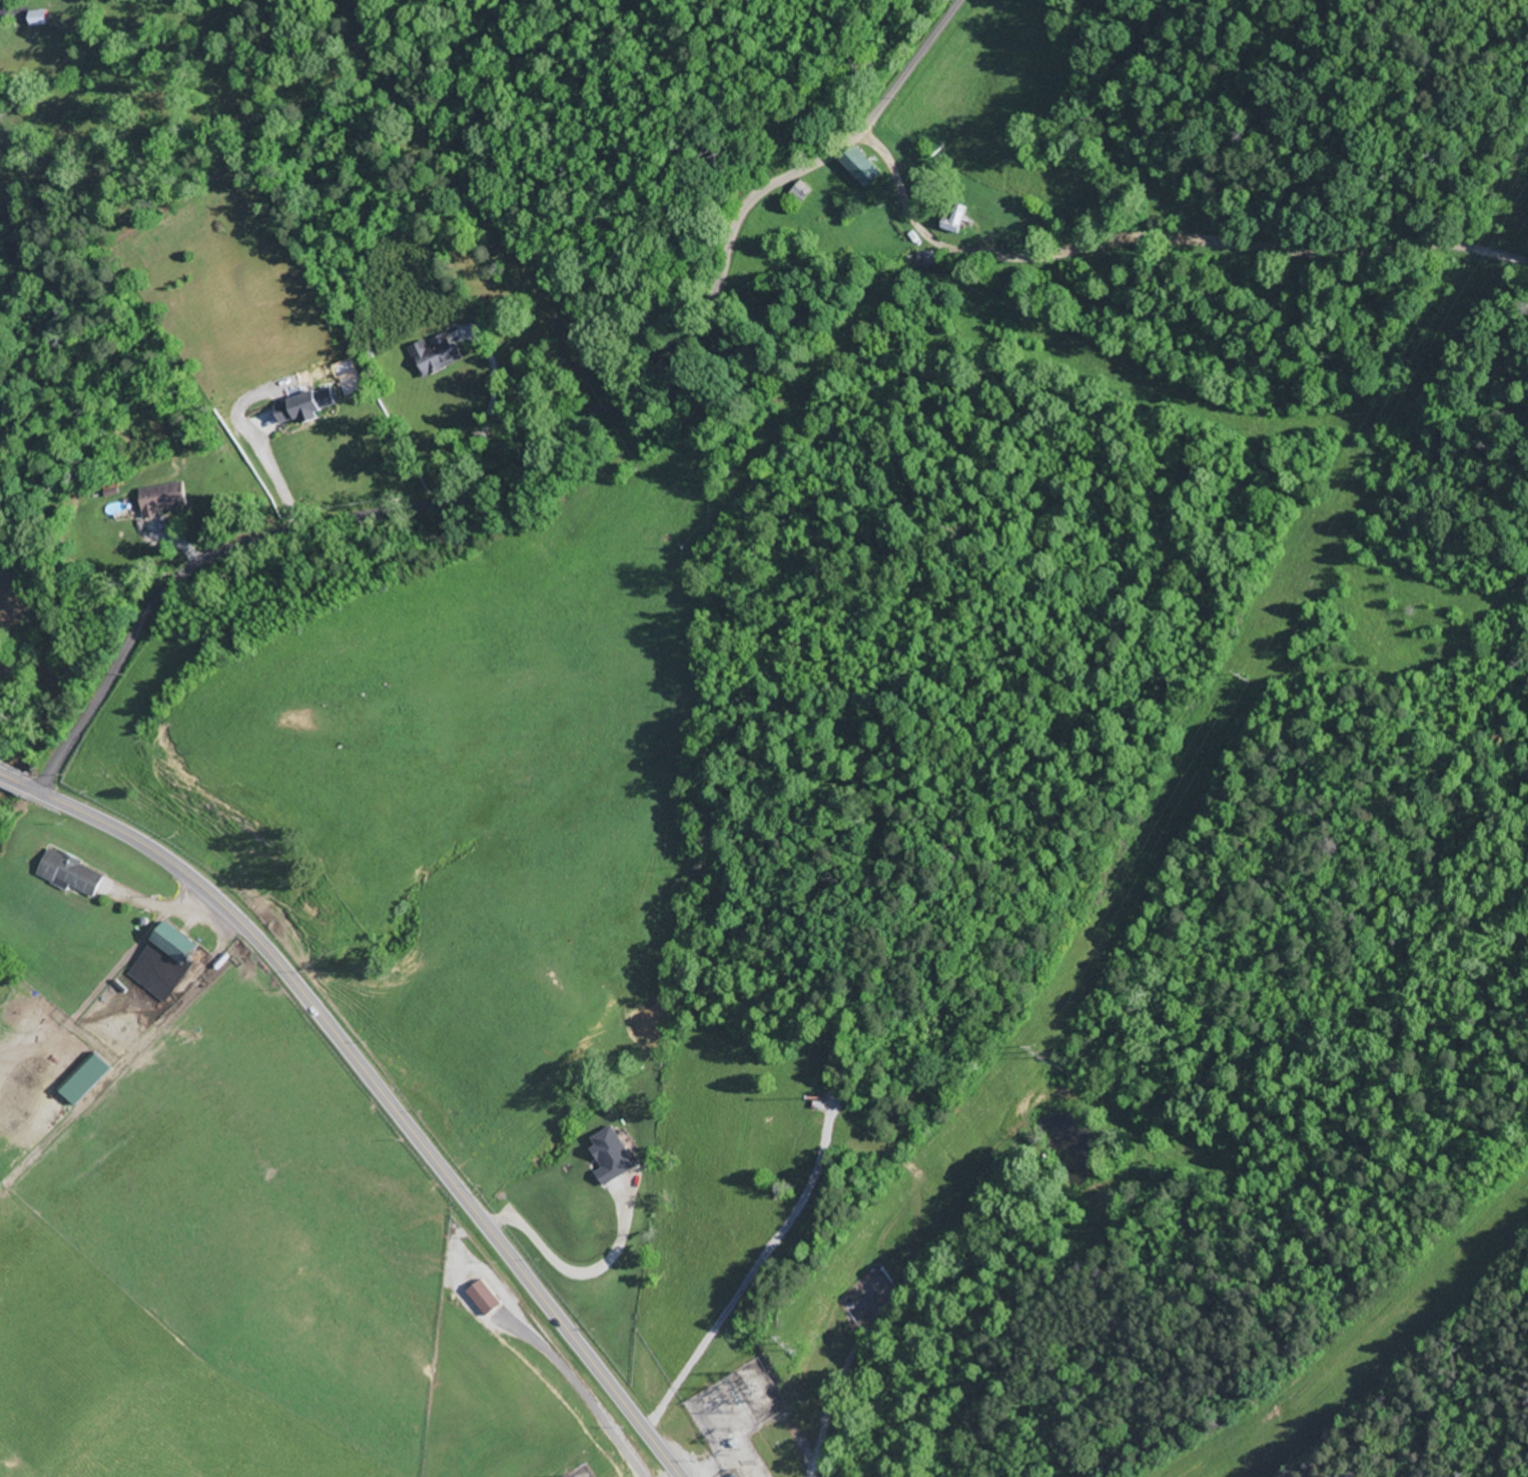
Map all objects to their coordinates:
building: (39, 17)
building: (862, 168)
building: (800, 192)
building: (436, 354)
building: (306, 406)
road: (534, 452)
building: (163, 498)
power tower: (1247, 676)
building: (74, 873)
building: (178, 944)
power tower: (1041, 1051)
road: (376, 1085)
road: (578, 1275)
building: (485, 1297)
power tower: (790, 1342)
power substation: (736, 1416)
road: (705, 1467)
power substation: (583, 1472)

